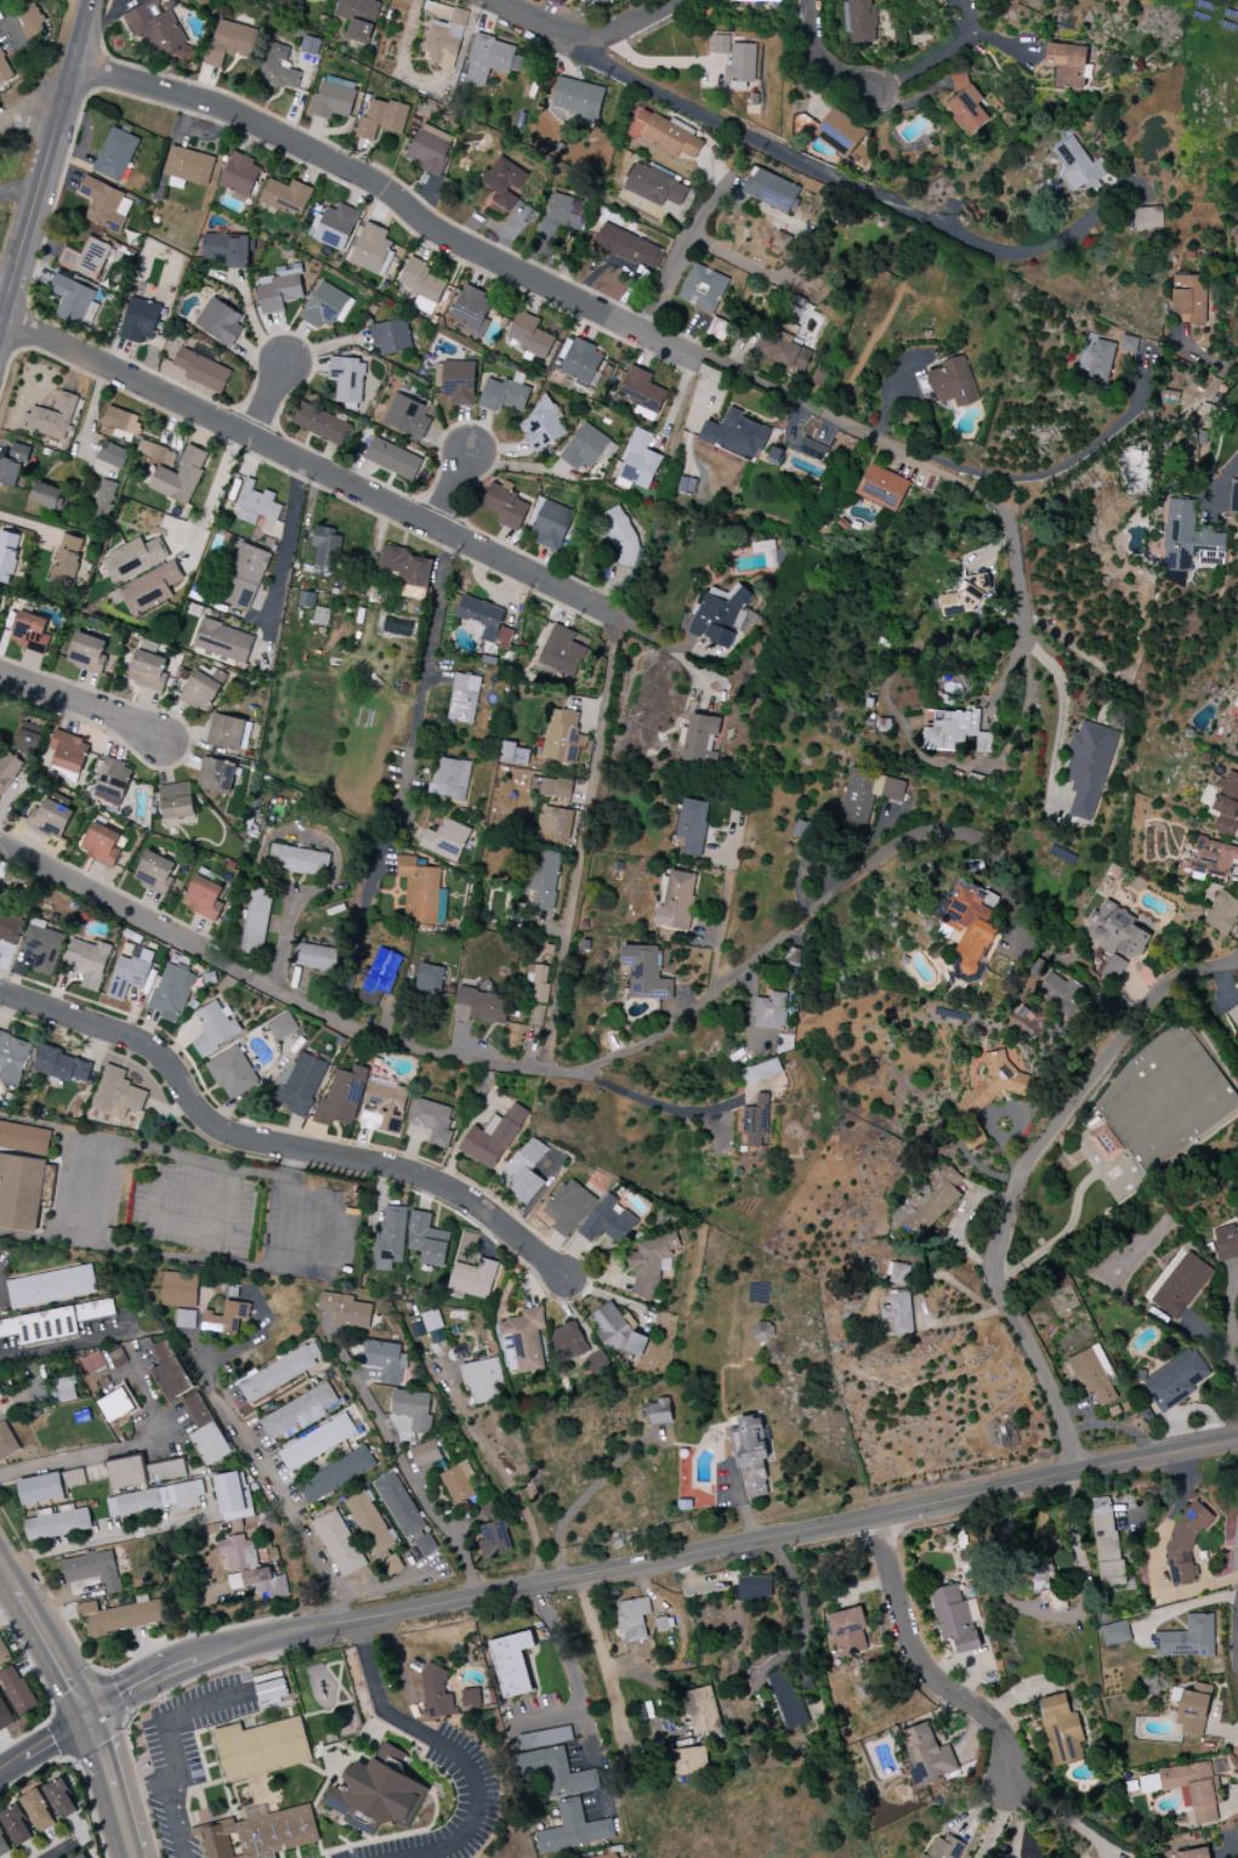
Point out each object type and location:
building: (760, 0)
building: (290, 1)
building: (586, 1)
building: (601, 1)
building: (29, 18)
building: (358, 18)
building: (861, 21)
road: (587, 32)
building: (160, 34)
building: (445, 40)
building: (231, 42)
building: (309, 45)
building: (720, 45)
road: (27, 61)
building: (740, 63)
building: (1068, 64)
building: (278, 68)
road: (865, 84)
building: (334, 97)
building: (578, 97)
building: (969, 109)
road: (27, 112)
building: (381, 119)
building: (839, 132)
building: (666, 135)
road: (765, 148)
building: (431, 149)
building: (115, 154)
road: (45, 163)
building: (188, 165)
building: (1078, 166)
building: (240, 175)
building: (504, 182)
building: (655, 186)
building: (771, 189)
road: (18, 191)
building: (286, 197)
building: (106, 205)
building: (562, 216)
building: (1147, 218)
building: (335, 227)
road: (694, 229)
road: (1063, 232)
building: (782, 242)
building: (626, 246)
building: (370, 249)
building: (228, 250)
building: (1236, 254)
building: (85, 258)
road: (744, 265)
building: (422, 285)
building: (279, 289)
building: (703, 289)
road: (4, 292)
building: (72, 299)
building: (1189, 300)
building: (326, 307)
road: (602, 309)
building: (472, 311)
road: (251, 319)
building: (140, 320)
building: (220, 320)
building: (529, 335)
building: (391, 336)
building: (1130, 345)
building: (784, 351)
building: (1096, 359)
road: (1203, 360)
building: (583, 362)
building: (201, 370)
building: (347, 381)
building: (456, 381)
building: (954, 382)
building: (642, 392)
building: (502, 396)
road: (269, 403)
building: (53, 416)
building: (408, 416)
building: (121, 424)
building: (322, 424)
building: (543, 425)
building: (736, 434)
building: (584, 448)
building: (812, 449)
building: (155, 453)
building: (112, 455)
building: (392, 459)
building: (638, 461)
building: (12, 466)
road: (308, 468)
building: (180, 476)
road: (1231, 477)
building: (884, 488)
road: (454, 493)
building: (49, 496)
building: (1233, 498)
building: (104, 499)
road: (212, 505)
building: (257, 506)
building: (505, 507)
building: (552, 525)
building: (620, 536)
building: (1187, 536)
road: (285, 545)
building: (325, 546)
building: (7, 557)
building: (66, 559)
building: (134, 559)
building: (391, 561)
road: (1016, 561)
building: (244, 575)
building: (418, 578)
building: (149, 589)
building: (966, 595)
building: (307, 600)
building: (482, 615)
building: (720, 615)
building: (30, 632)
building: (504, 636)
road: (664, 637)
building: (223, 641)
building: (562, 652)
building: (87, 653)
road: (428, 661)
building: (147, 666)
building: (201, 689)
building: (464, 698)
road: (81, 703)
building: (1234, 709)
road: (1063, 711)
building: (228, 732)
building: (955, 732)
building: (29, 738)
building: (562, 738)
building: (698, 739)
road: (910, 742)
building: (69, 752)
building: (513, 754)
building: (1089, 767)
building: (215, 775)
building: (450, 778)
building: (112, 782)
building: (550, 786)
building: (867, 797)
building: (176, 801)
building: (1226, 803)
building: (50, 818)
building: (557, 823)
building: (693, 825)
building: (445, 841)
building: (101, 843)
road: (580, 847)
building: (1216, 858)
building: (297, 860)
building: (153, 871)
building: (545, 879)
building: (419, 891)
building: (203, 898)
building: (677, 900)
road: (1015, 907)
building: (0, 913)
building: (1222, 913)
building: (256, 922)
building: (971, 924)
building: (8, 928)
road: (719, 931)
building: (1118, 938)
road: (285, 944)
building: (42, 947)
road: (354, 953)
building: (316, 958)
building: (87, 961)
building: (646, 973)
building: (129, 975)
building: (379, 977)
building: (428, 978)
building: (538, 979)
building: (171, 993)
building: (1062, 993)
building: (481, 1006)
building: (770, 1011)
building: (1233, 1015)
building: (282, 1027)
building: (215, 1028)
building: (12, 1058)
road: (500, 1063)
building: (62, 1066)
building: (760, 1072)
building: (233, 1075)
building: (995, 1081)
building: (300, 1083)
building: (118, 1093)
building: (342, 1096)
road: (644, 1101)
building: (387, 1103)
building: (432, 1120)
building: (755, 1124)
road: (56, 1127)
building: (24, 1137)
building: (493, 1138)
building: (1104, 1143)
road: (272, 1146)
building: (527, 1171)
road: (1021, 1176)
road: (63, 1187)
building: (21, 1193)
building: (937, 1201)
building: (568, 1208)
building: (608, 1221)
road: (289, 1226)
building: (391, 1237)
building: (426, 1240)
road: (96, 1241)
building: (1226, 1241)
building: (649, 1263)
building: (898, 1273)
building: (473, 1279)
building: (1179, 1283)
building: (50, 1286)
building: (178, 1290)
building: (346, 1309)
building: (897, 1314)
building: (226, 1318)
building: (186, 1319)
building: (52, 1322)
building: (433, 1326)
road: (1230, 1328)
building: (614, 1329)
building: (762, 1333)
building: (568, 1342)
road: (67, 1345)
building: (118, 1358)
building: (385, 1360)
building: (92, 1363)
building: (596, 1363)
building: (169, 1371)
building: (279, 1373)
building: (1094, 1374)
building: (1175, 1379)
building: (483, 1380)
building: (64, 1390)
building: (117, 1404)
building: (413, 1408)
building: (197, 1409)
building: (300, 1411)
building: (659, 1411)
building: (7, 1441)
building: (317, 1442)
building: (210, 1443)
road: (125, 1451)
building: (425, 1454)
building: (750, 1454)
road: (403, 1460)
road: (500, 1468)
building: (142, 1472)
building: (336, 1475)
building: (74, 1478)
building: (458, 1482)
road: (277, 1488)
building: (40, 1489)
building: (233, 1496)
building: (155, 1499)
building: (404, 1512)
building: (57, 1523)
building: (369, 1523)
road: (125, 1533)
building: (494, 1538)
building: (1107, 1541)
building: (1183, 1542)
building: (339, 1544)
road: (1157, 1553)
road: (655, 1559)
building: (391, 1564)
building: (249, 1568)
building: (92, 1569)
building: (1043, 1579)
building: (754, 1587)
road: (803, 1604)
building: (119, 1616)
building: (954, 1618)
building: (632, 1619)
building: (848, 1631)
building: (1115, 1633)
building: (1187, 1638)
road: (598, 1640)
building: (512, 1664)
road: (924, 1667)
building: (17, 1691)
building: (271, 1691)
building: (437, 1692)
road: (578, 1695)
building: (470, 1698)
building: (788, 1699)
road: (81, 1701)
building: (1193, 1709)
building: (702, 1710)
building: (1061, 1729)
road: (44, 1744)
road: (447, 1748)
road: (172, 1755)
building: (926, 1755)
building: (688, 1761)
building: (556, 1771)
building: (1187, 1789)
road: (142, 1790)
building: (261, 1790)
building: (377, 1792)
building: (61, 1799)
building: (38, 1811)
road: (1062, 1817)
road: (995, 1824)
building: (16, 1825)
building: (573, 1829)
building: (945, 1847)
road: (64, 1851)
building: (1193, 1853)
building: (615, 1856)
building: (83, 1857)

